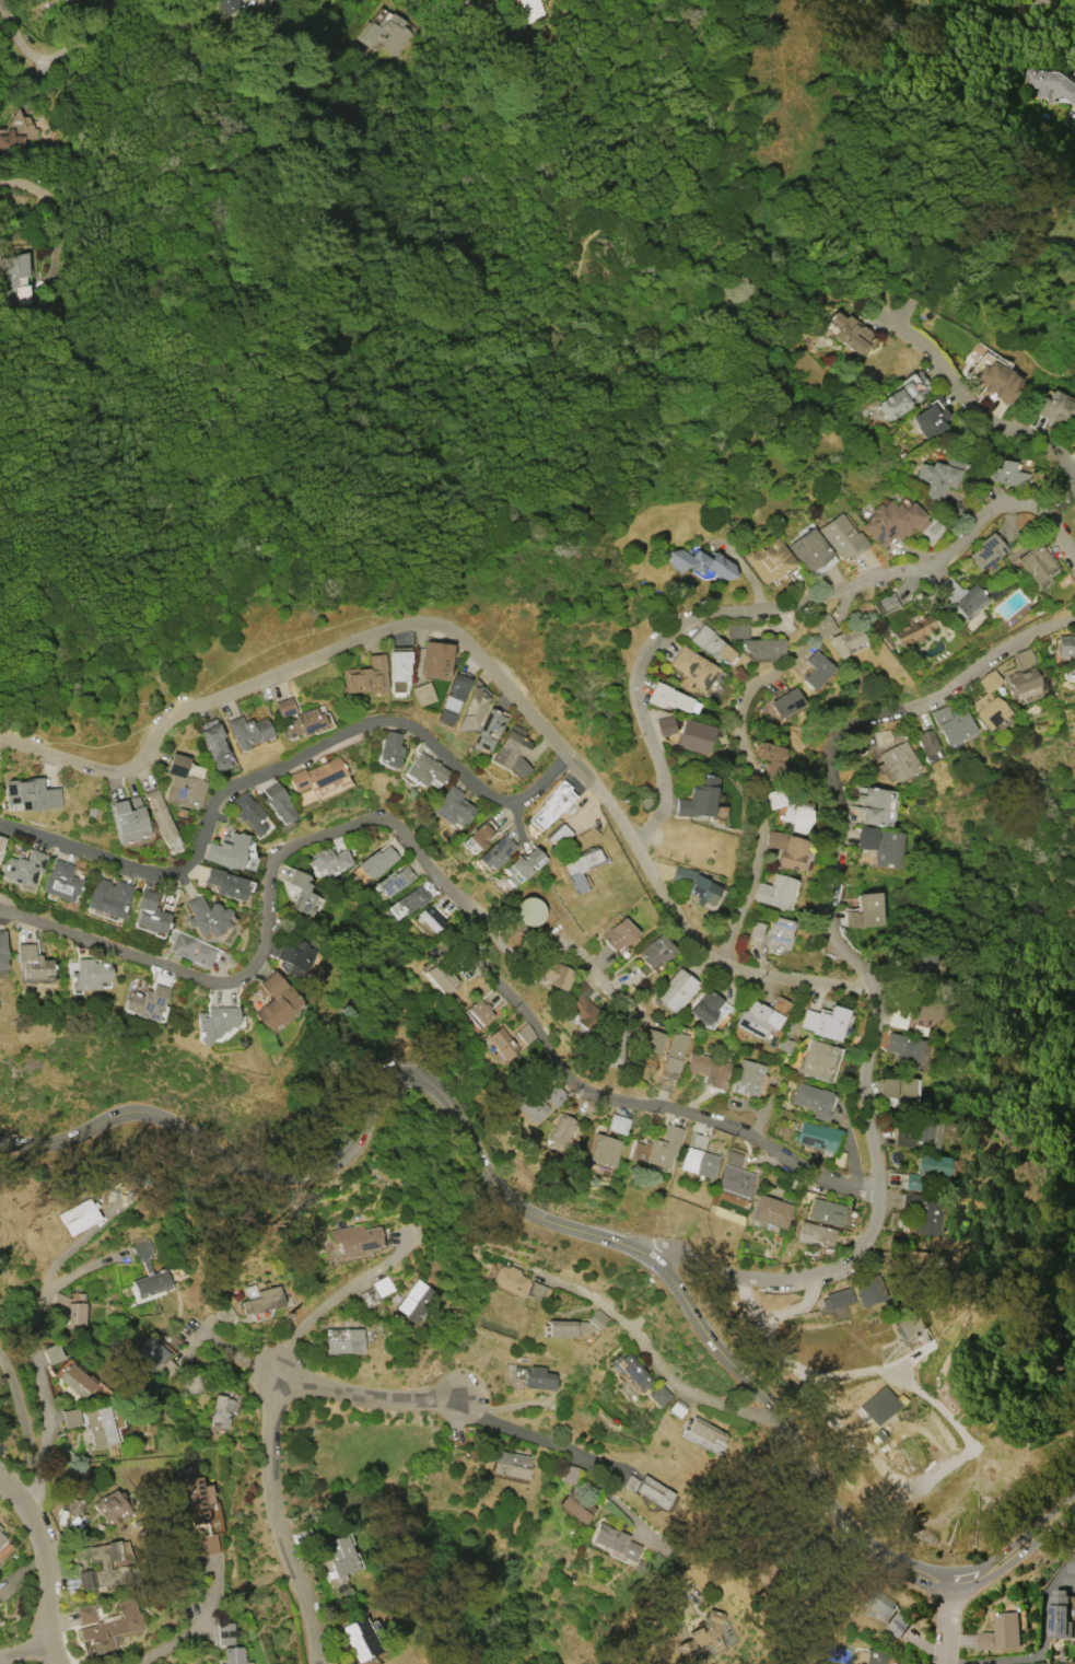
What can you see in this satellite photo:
road: (460, 0)
road: (0, 1)
building: (79, 2)
building: (230, 8)
building: (534, 10)
road: (358, 14)
road: (101, 25)
building: (387, 37)
building: (1049, 84)
road: (713, 100)
building: (15, 131)
road: (34, 189)
building: (21, 282)
road: (888, 301)
road: (546, 323)
building: (851, 334)
building: (997, 381)
building: (902, 395)
building: (1054, 406)
road: (982, 411)
building: (930, 418)
building: (1074, 445)
building: (1005, 474)
building: (940, 475)
building: (893, 522)
building: (842, 537)
building: (808, 550)
building: (984, 551)
building: (770, 561)
building: (699, 563)
building: (1031, 563)
building: (957, 595)
building: (885, 604)
road: (773, 607)
building: (823, 626)
building: (913, 630)
building: (844, 640)
building: (750, 642)
building: (711, 645)
building: (1066, 645)
building: (1024, 658)
building: (434, 660)
road: (471, 661)
building: (1074, 668)
building: (817, 670)
building: (397, 671)
building: (692, 671)
building: (364, 676)
building: (1023, 680)
building: (421, 694)
building: (453, 698)
building: (669, 699)
building: (989, 701)
building: (787, 705)
building: (284, 707)
building: (471, 710)
building: (938, 714)
building: (303, 723)
building: (664, 725)
building: (956, 726)
building: (486, 730)
building: (247, 732)
building: (693, 736)
building: (886, 737)
building: (213, 746)
building: (928, 746)
building: (389, 749)
building: (511, 752)
building: (773, 760)
building: (899, 760)
road: (271, 765)
building: (423, 770)
building: (316, 775)
building: (183, 781)
building: (31, 794)
road: (756, 796)
building: (697, 798)
building: (775, 799)
building: (278, 803)
building: (553, 803)
building: (449, 806)
building: (878, 807)
building: (248, 813)
building: (159, 815)
building: (795, 818)
building: (128, 821)
building: (479, 834)
building: (558, 836)
building: (866, 838)
building: (1, 841)
building: (0, 850)
building: (226, 850)
building: (887, 850)
building: (495, 852)
building: (793, 852)
building: (327, 860)
building: (378, 862)
building: (522, 866)
building: (23, 868)
building: (580, 868)
building: (395, 881)
road: (444, 881)
building: (60, 882)
building: (224, 884)
building: (692, 886)
building: (775, 892)
building: (301, 894)
building: (108, 897)
building: (412, 899)
building: (868, 909)
building: (528, 911)
building: (149, 914)
building: (205, 917)
building: (431, 918)
building: (852, 919)
building: (758, 930)
building: (617, 934)
building: (779, 934)
road: (552, 944)
building: (183, 945)
building: (1, 951)
building: (655, 951)
building: (201, 954)
building: (295, 958)
building: (32, 963)
building: (926, 963)
building: (902, 970)
building: (550, 973)
building: (87, 975)
building: (444, 979)
road: (857, 979)
building: (676, 989)
building: (277, 1001)
building: (147, 1003)
building: (705, 1006)
building: (582, 1009)
building: (923, 1009)
building: (481, 1012)
building: (761, 1017)
building: (896, 1020)
building: (213, 1023)
building: (827, 1023)
building: (617, 1042)
building: (651, 1042)
building: (501, 1043)
building: (893, 1043)
building: (673, 1052)
building: (910, 1054)
building: (816, 1060)
building: (708, 1069)
building: (747, 1079)
building: (888, 1087)
building: (907, 1093)
building: (813, 1101)
building: (529, 1104)
building: (616, 1124)
building: (560, 1130)
building: (816, 1136)
building: (918, 1136)
building: (697, 1141)
building: (658, 1148)
building: (601, 1150)
building: (733, 1159)
building: (837, 1159)
building: (698, 1162)
building: (932, 1165)
building: (734, 1180)
building: (769, 1211)
building: (825, 1212)
building: (923, 1213)
building: (78, 1217)
road: (559, 1224)
building: (815, 1234)
building: (353, 1238)
building: (920, 1258)
building: (145, 1268)
building: (509, 1280)
building: (868, 1290)
building: (535, 1291)
building: (375, 1292)
building: (260, 1298)
building: (414, 1301)
building: (58, 1302)
road: (327, 1306)
building: (225, 1313)
road: (1050, 1316)
building: (75, 1317)
building: (595, 1318)
building: (911, 1326)
building: (564, 1328)
building: (342, 1340)
road: (227, 1349)
building: (54, 1353)
building: (149, 1353)
road: (35, 1358)
road: (657, 1363)
building: (629, 1371)
building: (536, 1378)
building: (75, 1381)
building: (191, 1385)
building: (658, 1396)
building: (879, 1407)
building: (675, 1409)
road: (937, 1410)
building: (219, 1411)
road: (21, 1416)
building: (70, 1418)
building: (100, 1427)
building: (702, 1431)
road: (270, 1432)
building: (510, 1465)
road: (594, 1476)
building: (647, 1489)
building: (74, 1506)
building: (575, 1506)
building: (110, 1508)
building: (199, 1511)
building: (0, 1528)
building: (1, 1538)
building: (614, 1541)
building: (339, 1556)
building: (1070, 1562)
road: (47, 1566)
building: (638, 1566)
building: (105, 1568)
building: (876, 1604)
building: (85, 1615)
building: (1059, 1616)
road: (939, 1622)
road: (196, 1625)
building: (897, 1625)
building: (112, 1628)
building: (1002, 1632)
building: (224, 1633)
building: (702, 1633)
building: (360, 1639)
road: (22, 1652)
road: (1035, 1653)
building: (232, 1655)
building: (875, 1656)
building: (340, 1663)

